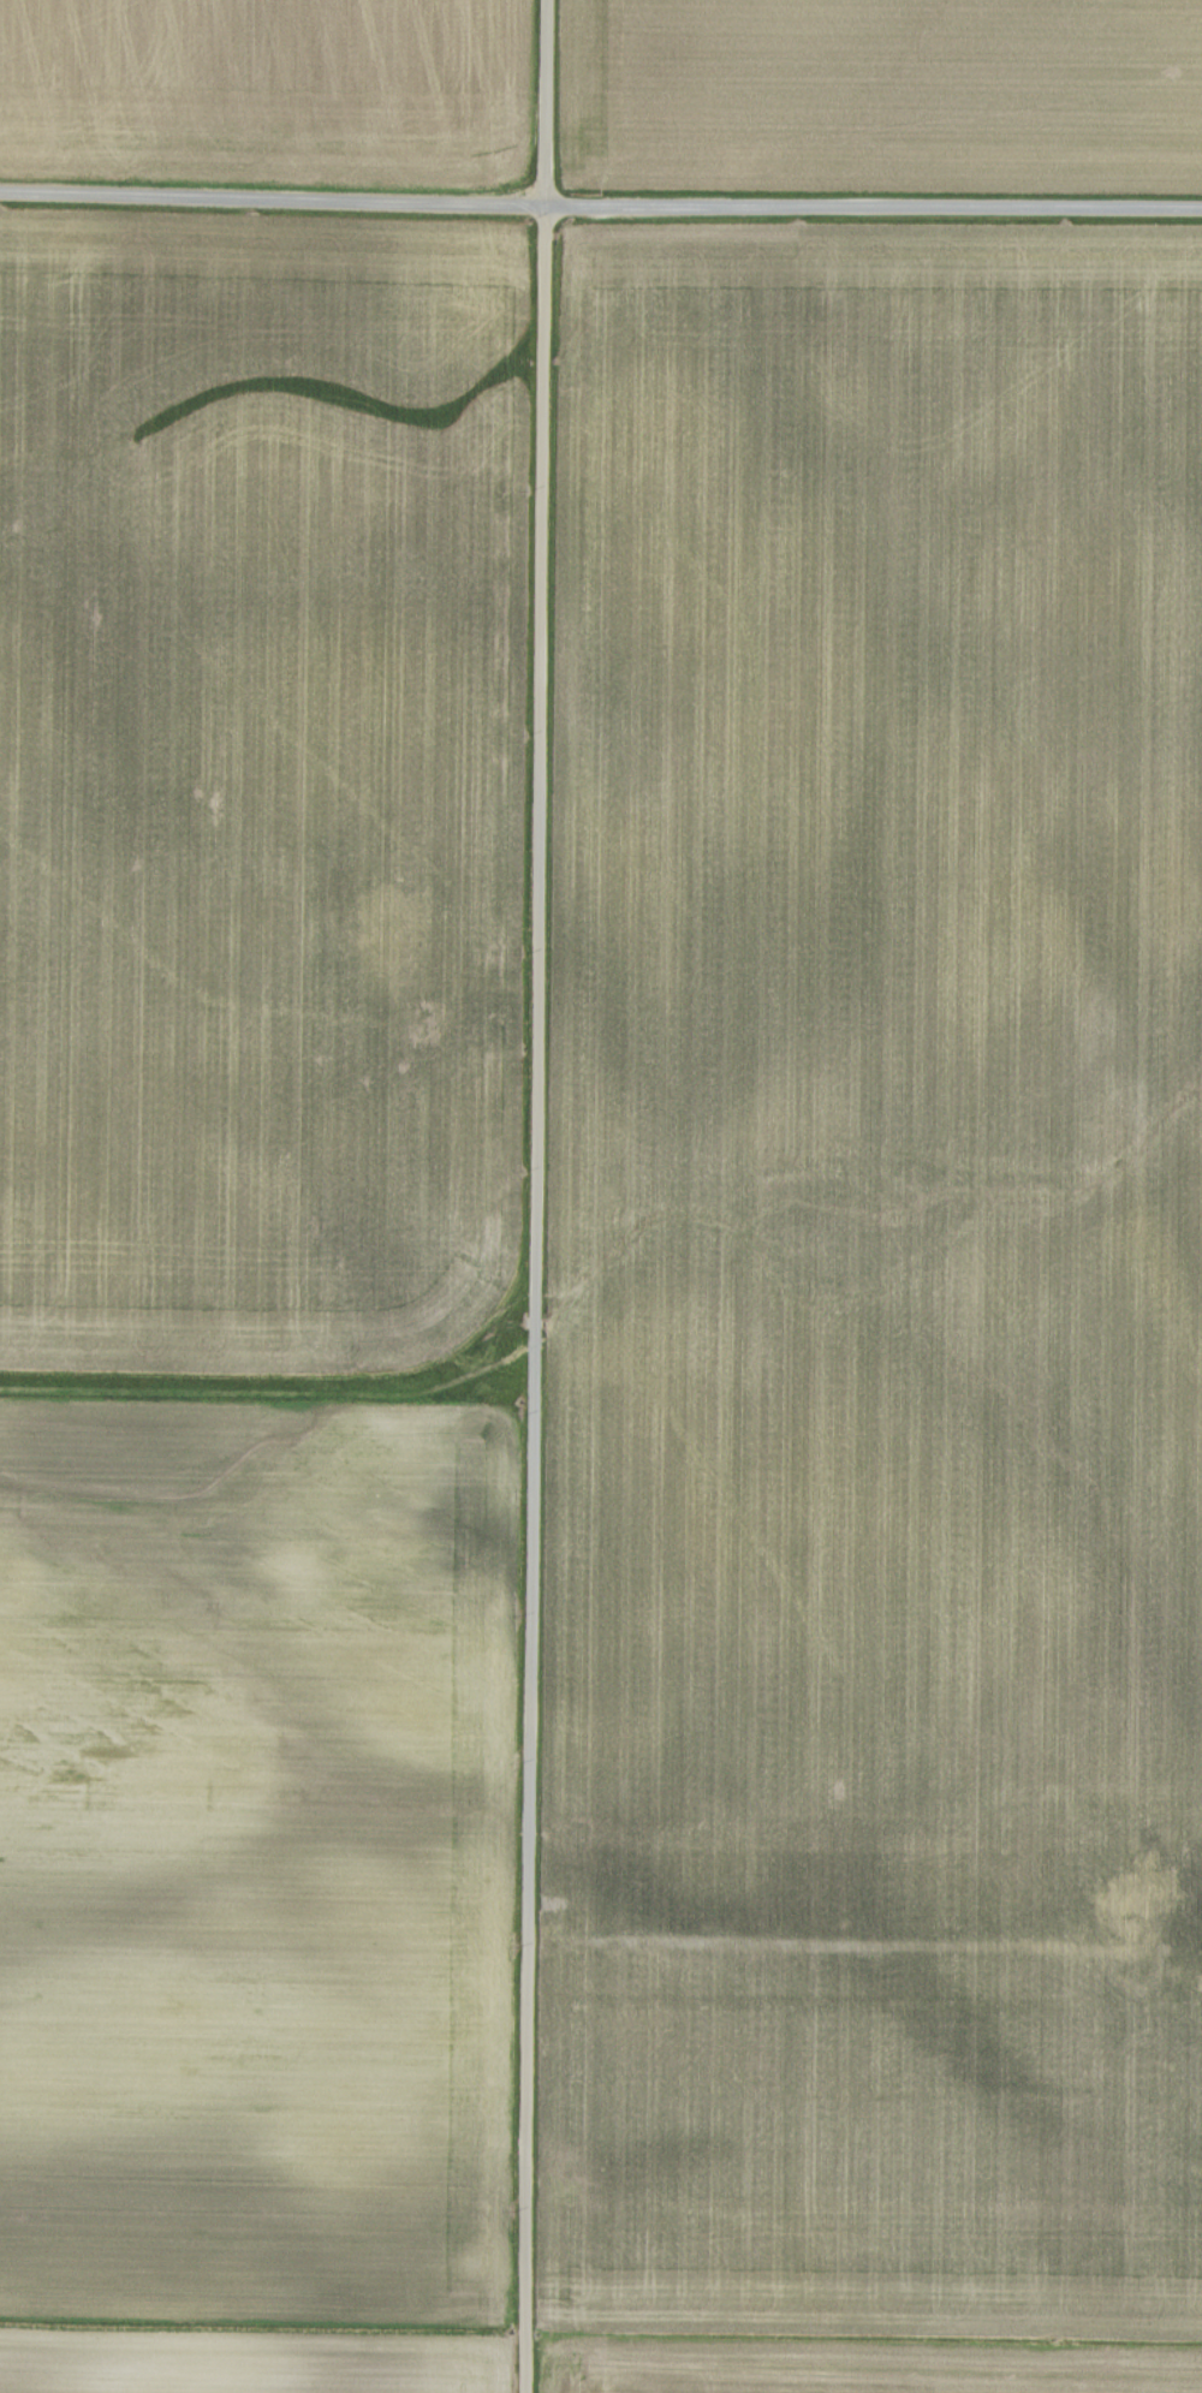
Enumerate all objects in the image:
road: (600, 204)
road: (534, 1196)
road: (811, 1945)
road: (1152, 1958)

